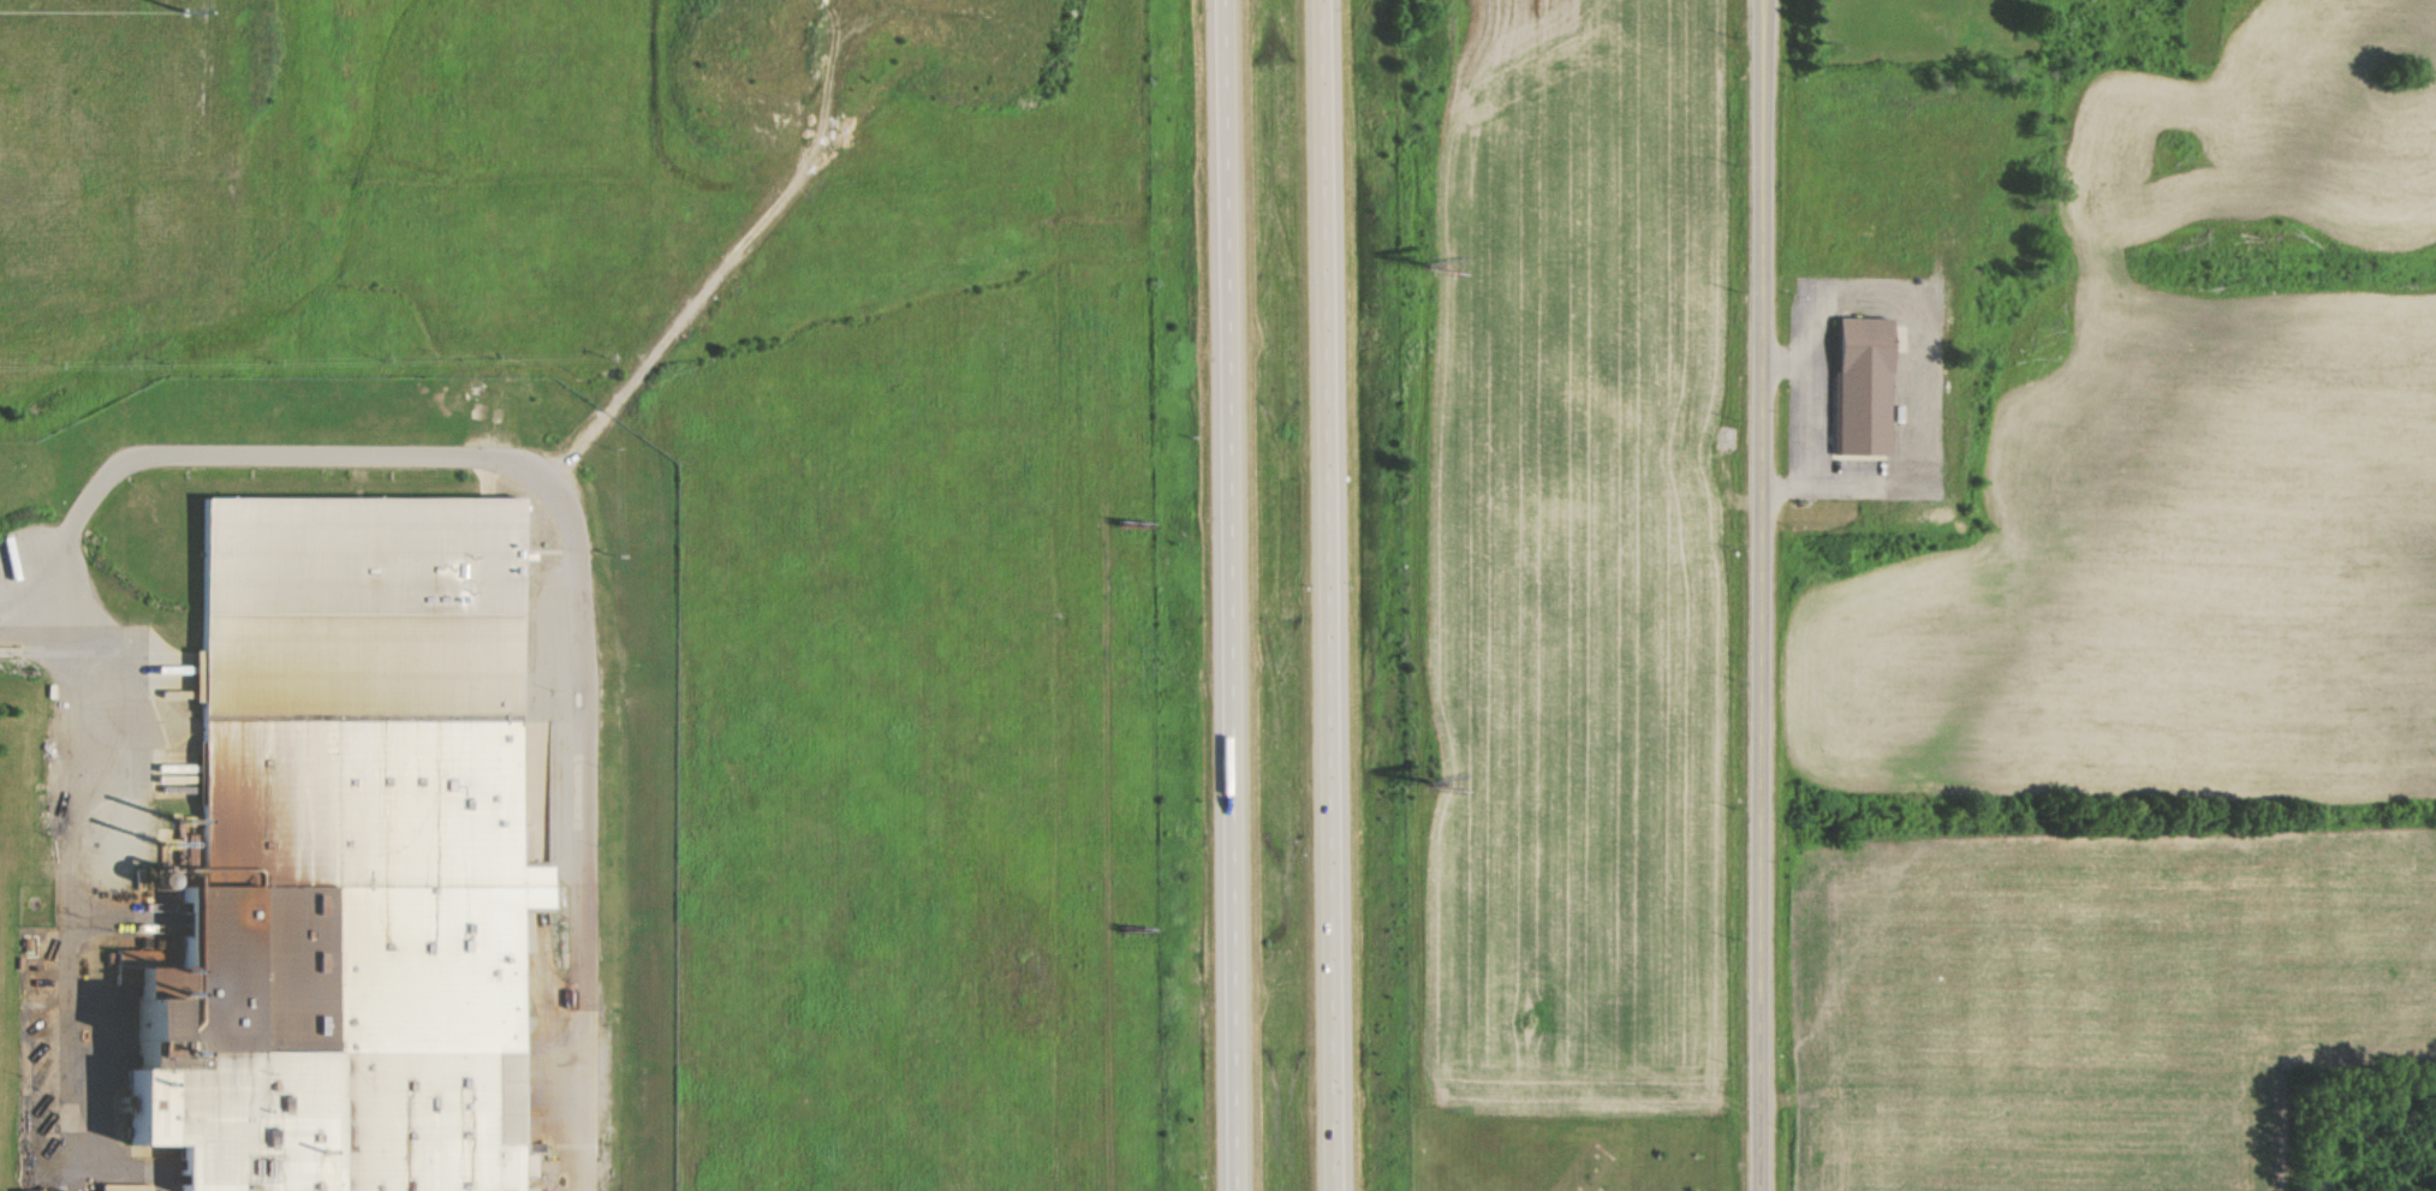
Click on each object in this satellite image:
power tower: (186, 12)
building: (1844, 395)
road: (566, 513)
road: (1229, 595)
road: (1326, 595)
road: (1757, 595)
road: (549, 632)
road: (36, 644)
road: (565, 730)
building: (345, 863)
road: (550, 869)
road: (75, 891)
building: (48, 1190)

